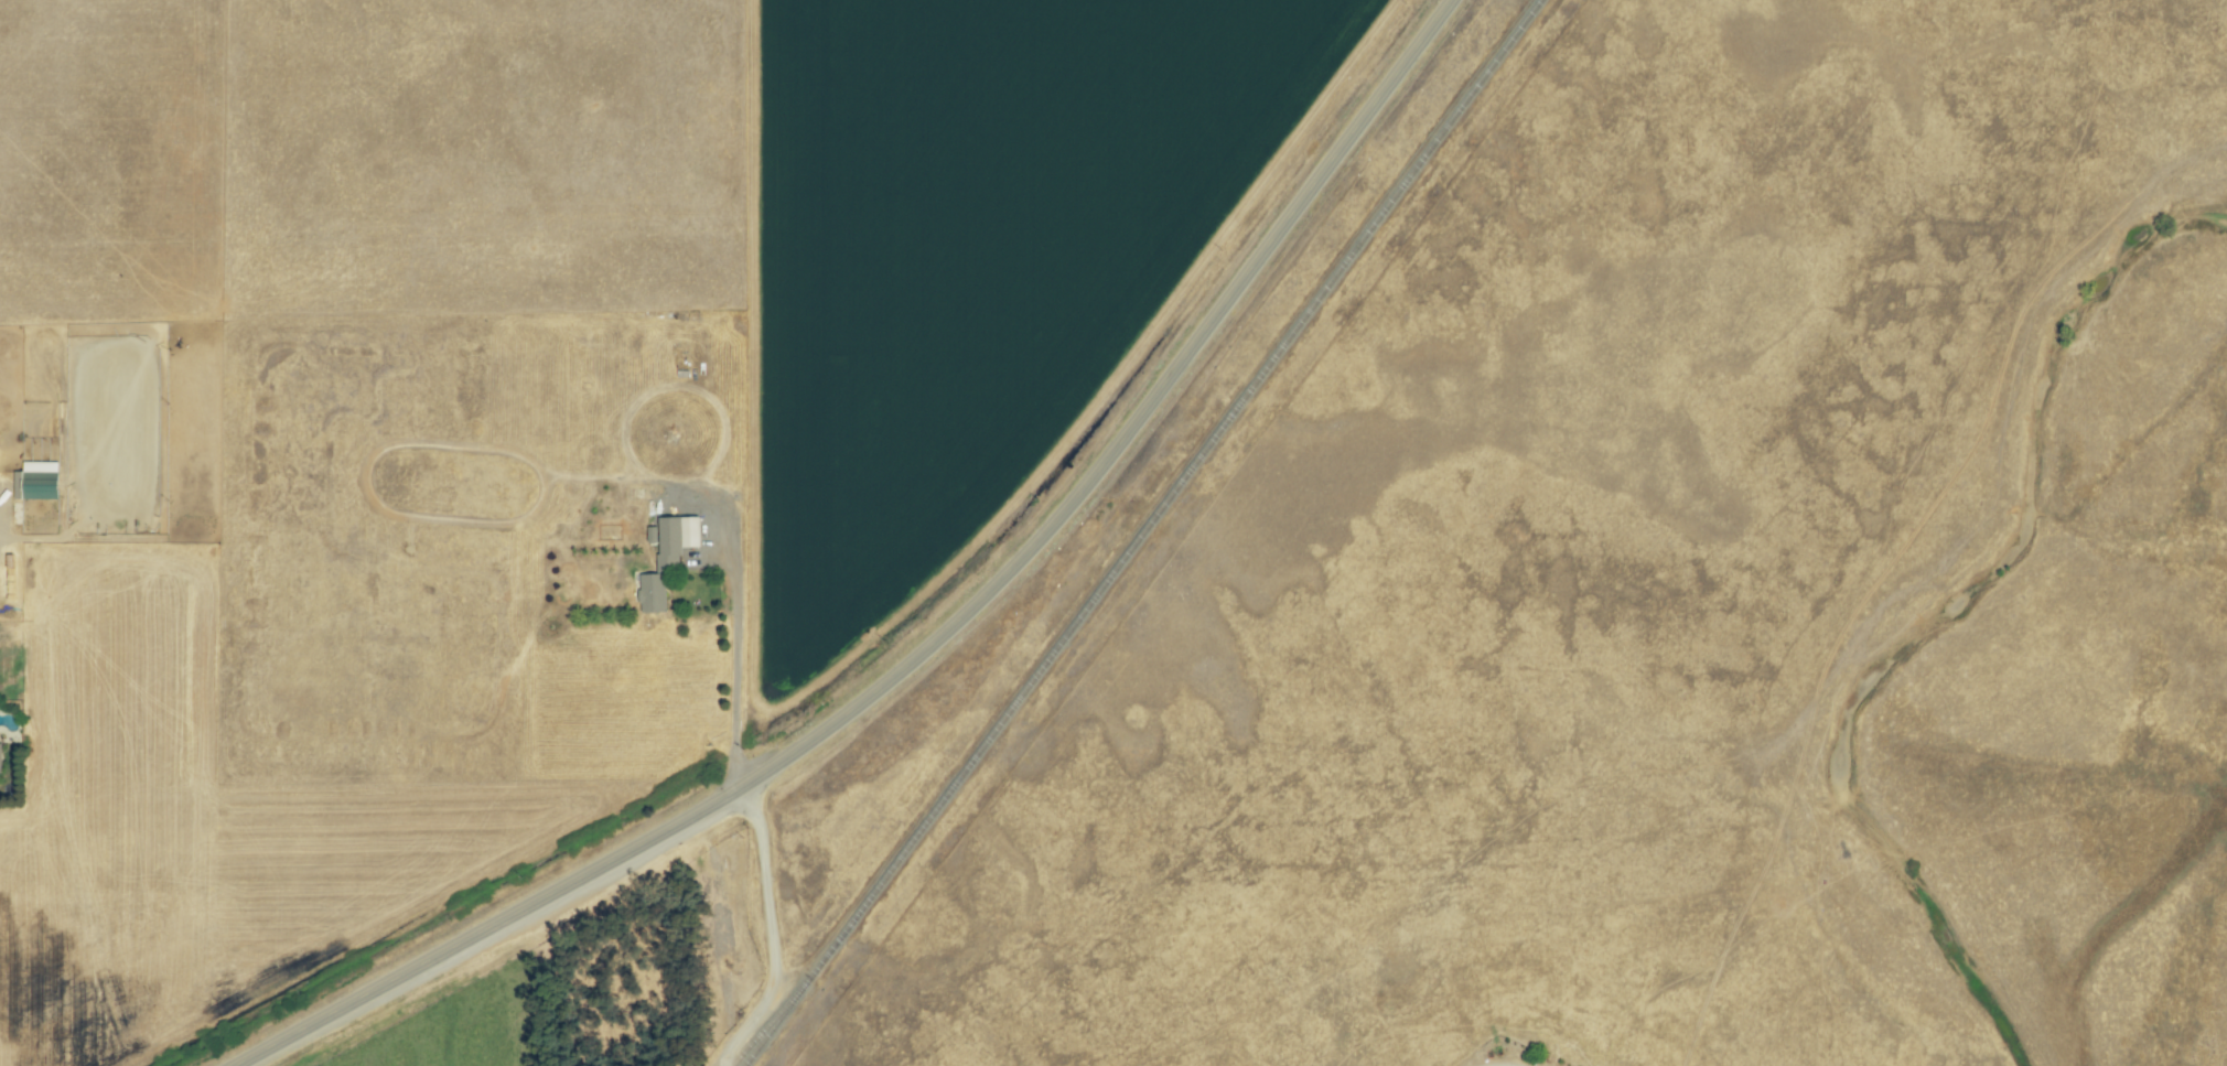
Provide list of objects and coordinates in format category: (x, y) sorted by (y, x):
building: (34, 489)
railway: (1142, 532)
building: (667, 558)
road: (940, 639)
road: (735, 671)
road: (775, 935)
railway: (768, 1023)

